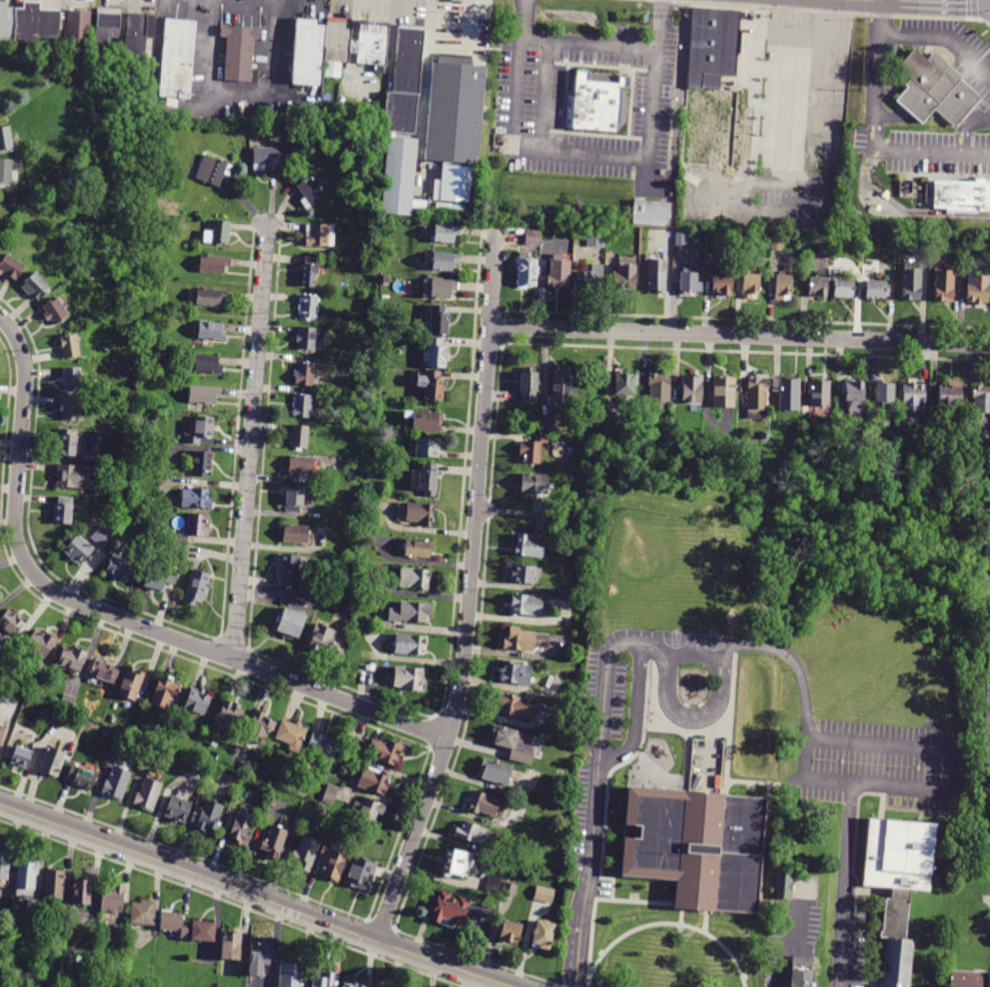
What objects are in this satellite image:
road: (952, 2)
building: (32, 24)
building: (106, 24)
building: (77, 25)
road: (796, 27)
building: (137, 32)
building: (341, 34)
road: (927, 35)
road: (588, 42)
building: (374, 47)
building: (242, 52)
building: (311, 52)
building: (175, 59)
building: (715, 87)
building: (933, 88)
road: (543, 95)
building: (0, 97)
road: (756, 100)
building: (594, 102)
road: (965, 126)
building: (402, 127)
building: (455, 130)
building: (6, 137)
road: (875, 144)
road: (586, 154)
building: (265, 156)
road: (820, 156)
building: (6, 169)
building: (212, 169)
road: (645, 174)
building: (311, 191)
building: (960, 196)
building: (12, 199)
road: (872, 208)
building: (652, 211)
road: (904, 211)
building: (217, 231)
building: (446, 234)
building: (321, 235)
building: (533, 238)
building: (596, 239)
building: (681, 240)
building: (777, 242)
building: (824, 248)
building: (213, 263)
building: (445, 263)
road: (670, 264)
building: (12, 268)
building: (310, 270)
road: (677, 271)
building: (559, 272)
building: (528, 273)
building: (160, 274)
building: (657, 277)
building: (592, 278)
building: (625, 279)
building: (690, 283)
building: (785, 285)
building: (723, 286)
building: (912, 286)
building: (35, 287)
building: (749, 287)
building: (945, 287)
building: (819, 288)
building: (440, 289)
building: (846, 290)
building: (979, 290)
building: (878, 291)
building: (210, 296)
building: (309, 306)
road: (672, 308)
building: (55, 312)
building: (440, 321)
building: (211, 330)
building: (152, 335)
road: (740, 336)
building: (307, 337)
building: (70, 347)
building: (437, 354)
building: (208, 363)
building: (305, 373)
building: (72, 379)
building: (529, 385)
building: (432, 386)
building: (626, 386)
building: (660, 389)
building: (561, 390)
building: (692, 390)
building: (203, 393)
building: (725, 393)
building: (885, 393)
building: (788, 394)
building: (819, 394)
building: (952, 395)
building: (855, 397)
building: (914, 397)
building: (756, 398)
building: (982, 400)
building: (302, 405)
building: (70, 410)
building: (336, 415)
building: (425, 422)
building: (549, 426)
building: (199, 428)
building: (300, 435)
road: (251, 439)
building: (68, 444)
building: (425, 449)
building: (533, 450)
building: (201, 462)
building: (301, 464)
building: (73, 475)
building: (429, 481)
building: (536, 485)
building: (196, 497)
building: (295, 501)
building: (989, 502)
building: (63, 510)
road: (515, 513)
building: (421, 515)
building: (198, 524)
road: (982, 532)
building: (295, 533)
building: (102, 536)
building: (530, 547)
building: (78, 548)
building: (418, 550)
building: (120, 569)
building: (289, 569)
building: (525, 575)
park: (675, 577)
building: (986, 577)
building: (159, 580)
building: (415, 580)
building: (197, 586)
road: (469, 589)
building: (574, 593)
building: (349, 594)
building: (527, 606)
building: (411, 614)
road: (111, 616)
building: (290, 622)
building: (11, 624)
building: (323, 640)
building: (520, 641)
park: (674, 642)
park: (711, 644)
building: (41, 645)
building: (410, 646)
building: (73, 660)
road: (793, 661)
building: (2, 663)
building: (104, 672)
building: (516, 674)
building: (410, 680)
road: (602, 683)
building: (132, 684)
building: (37, 692)
building: (165, 694)
building: (198, 702)
building: (68, 703)
building: (515, 707)
road: (640, 708)
road: (704, 716)
building: (229, 718)
building: (113, 719)
building: (260, 729)
building: (2, 732)
building: (107, 733)
building: (292, 735)
road: (951, 743)
building: (515, 745)
building: (214, 746)
building: (323, 748)
building: (987, 748)
road: (710, 750)
building: (387, 752)
road: (690, 754)
building: (18, 757)
building: (52, 764)
park: (645, 771)
building: (496, 773)
road: (803, 778)
building: (82, 779)
building: (376, 783)
building: (117, 785)
building: (148, 795)
building: (249, 795)
building: (331, 795)
building: (485, 806)
building: (179, 811)
building: (369, 811)
building: (210, 818)
building: (242, 828)
building: (472, 835)
road: (595, 840)
building: (275, 845)
building: (700, 846)
building: (305, 855)
building: (333, 862)
building: (457, 865)
building: (4, 866)
building: (361, 876)
building: (495, 877)
building: (898, 878)
building: (27, 879)
building: (54, 884)
building: (561, 884)
road: (845, 884)
building: (784, 888)
building: (510, 890)
building: (83, 893)
road: (255, 895)
building: (545, 896)
building: (113, 900)
building: (447, 910)
building: (143, 911)
building: (989, 915)
road: (683, 916)
road: (704, 919)
road: (669, 922)
building: (175, 925)
building: (203, 930)
flagpole: (681, 930)
building: (512, 934)
building: (545, 937)
road: (577, 939)
road: (787, 944)
building: (232, 947)
building: (260, 959)
building: (802, 972)
building: (291, 974)
road: (575, 974)
building: (967, 979)
building: (988, 979)
building: (326, 981)
building: (354, 985)
building: (379, 986)

